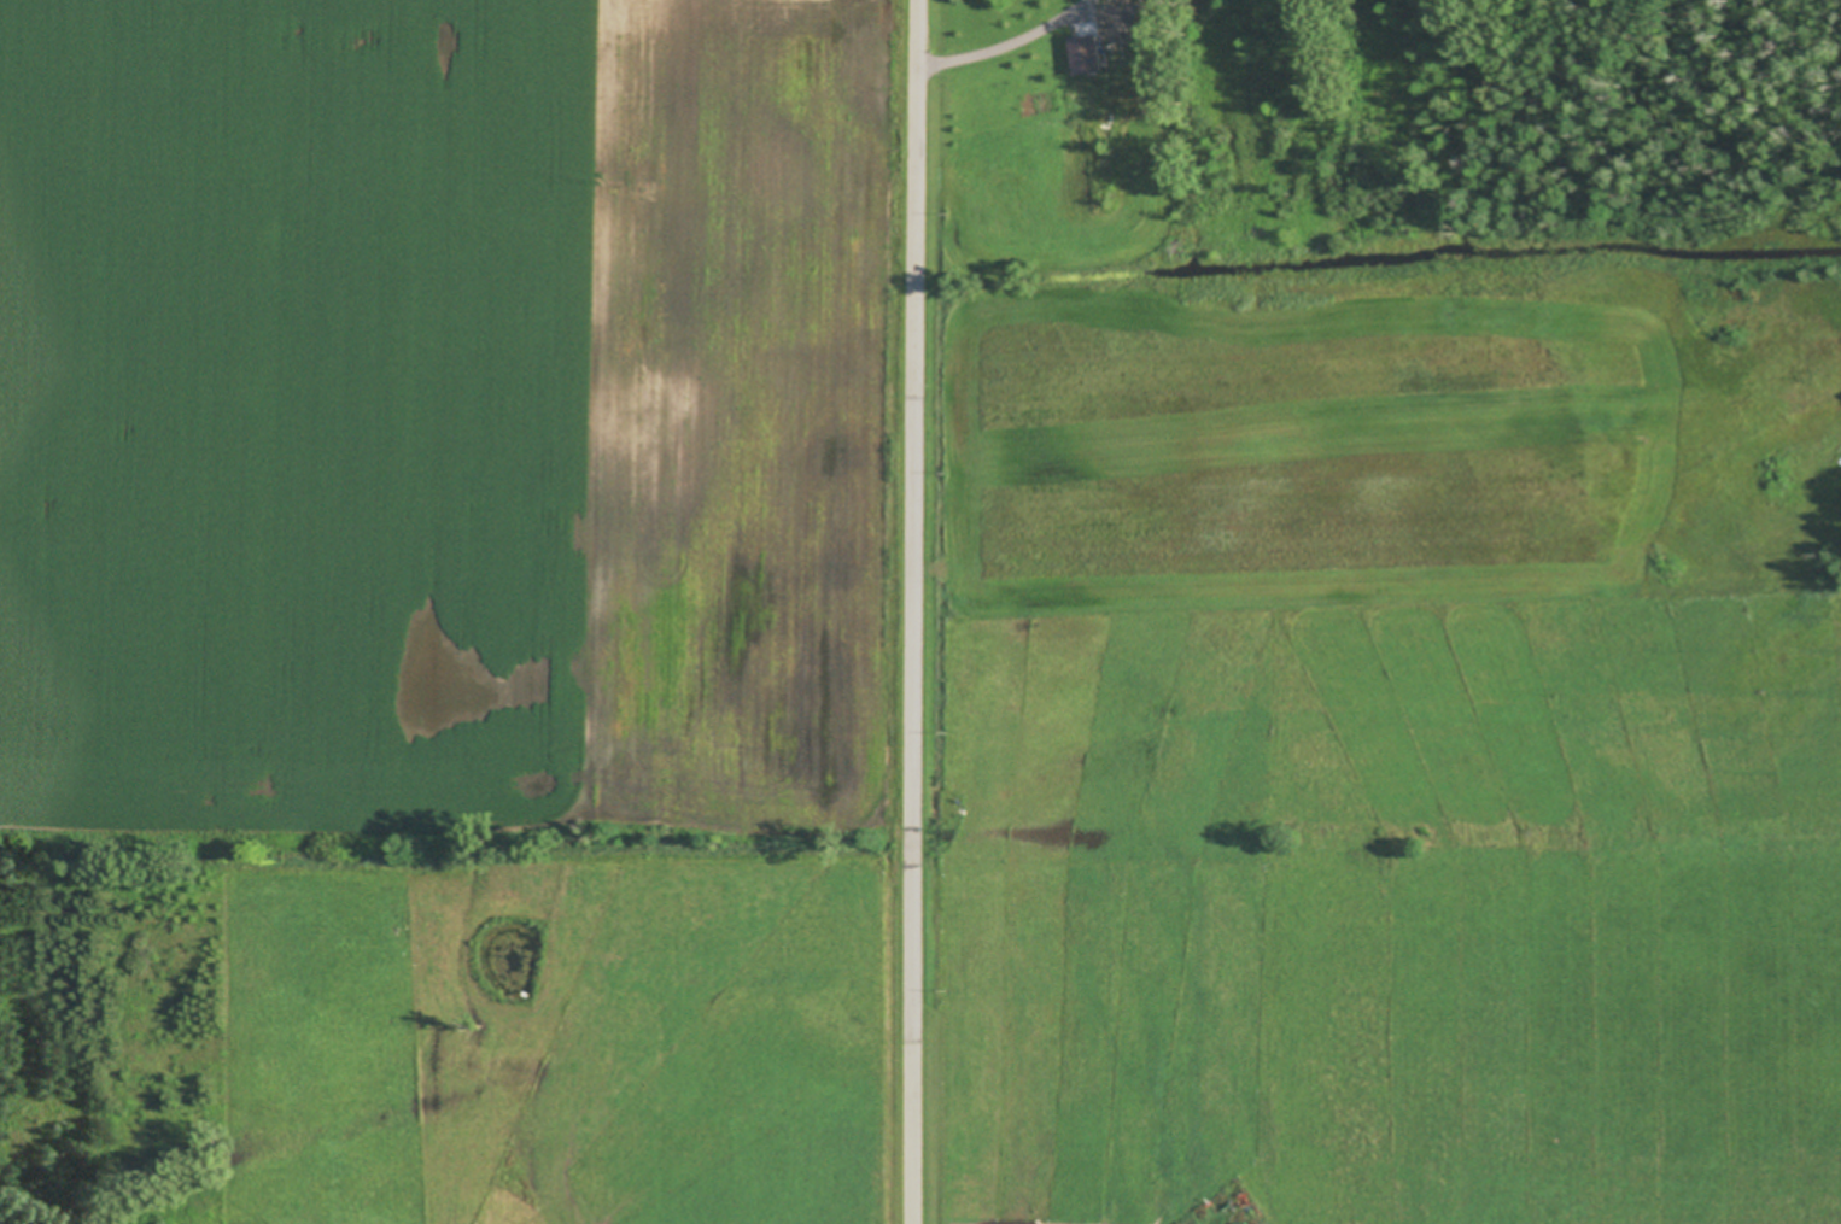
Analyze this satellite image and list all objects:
road: (1010, 47)
building: (1089, 55)
building: (1840, 465)
road: (916, 611)

